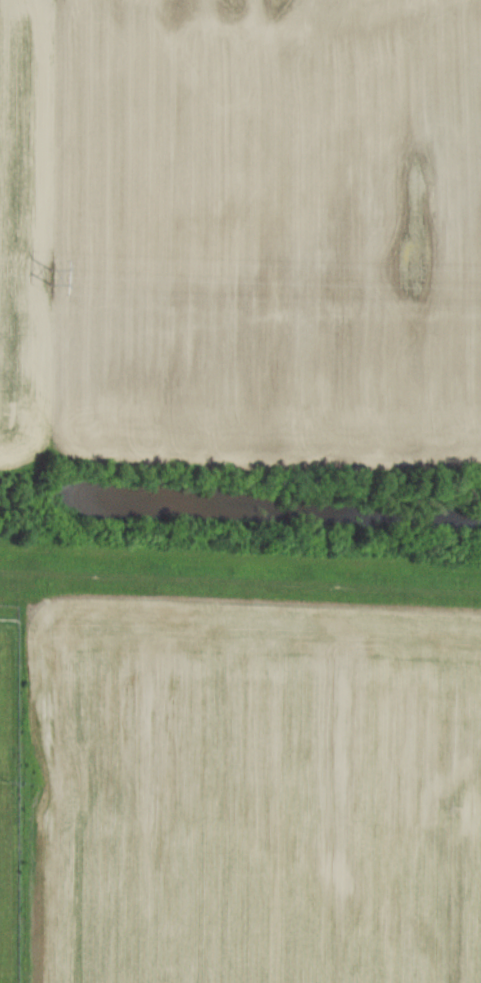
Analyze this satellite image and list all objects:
power tower: (54, 281)

